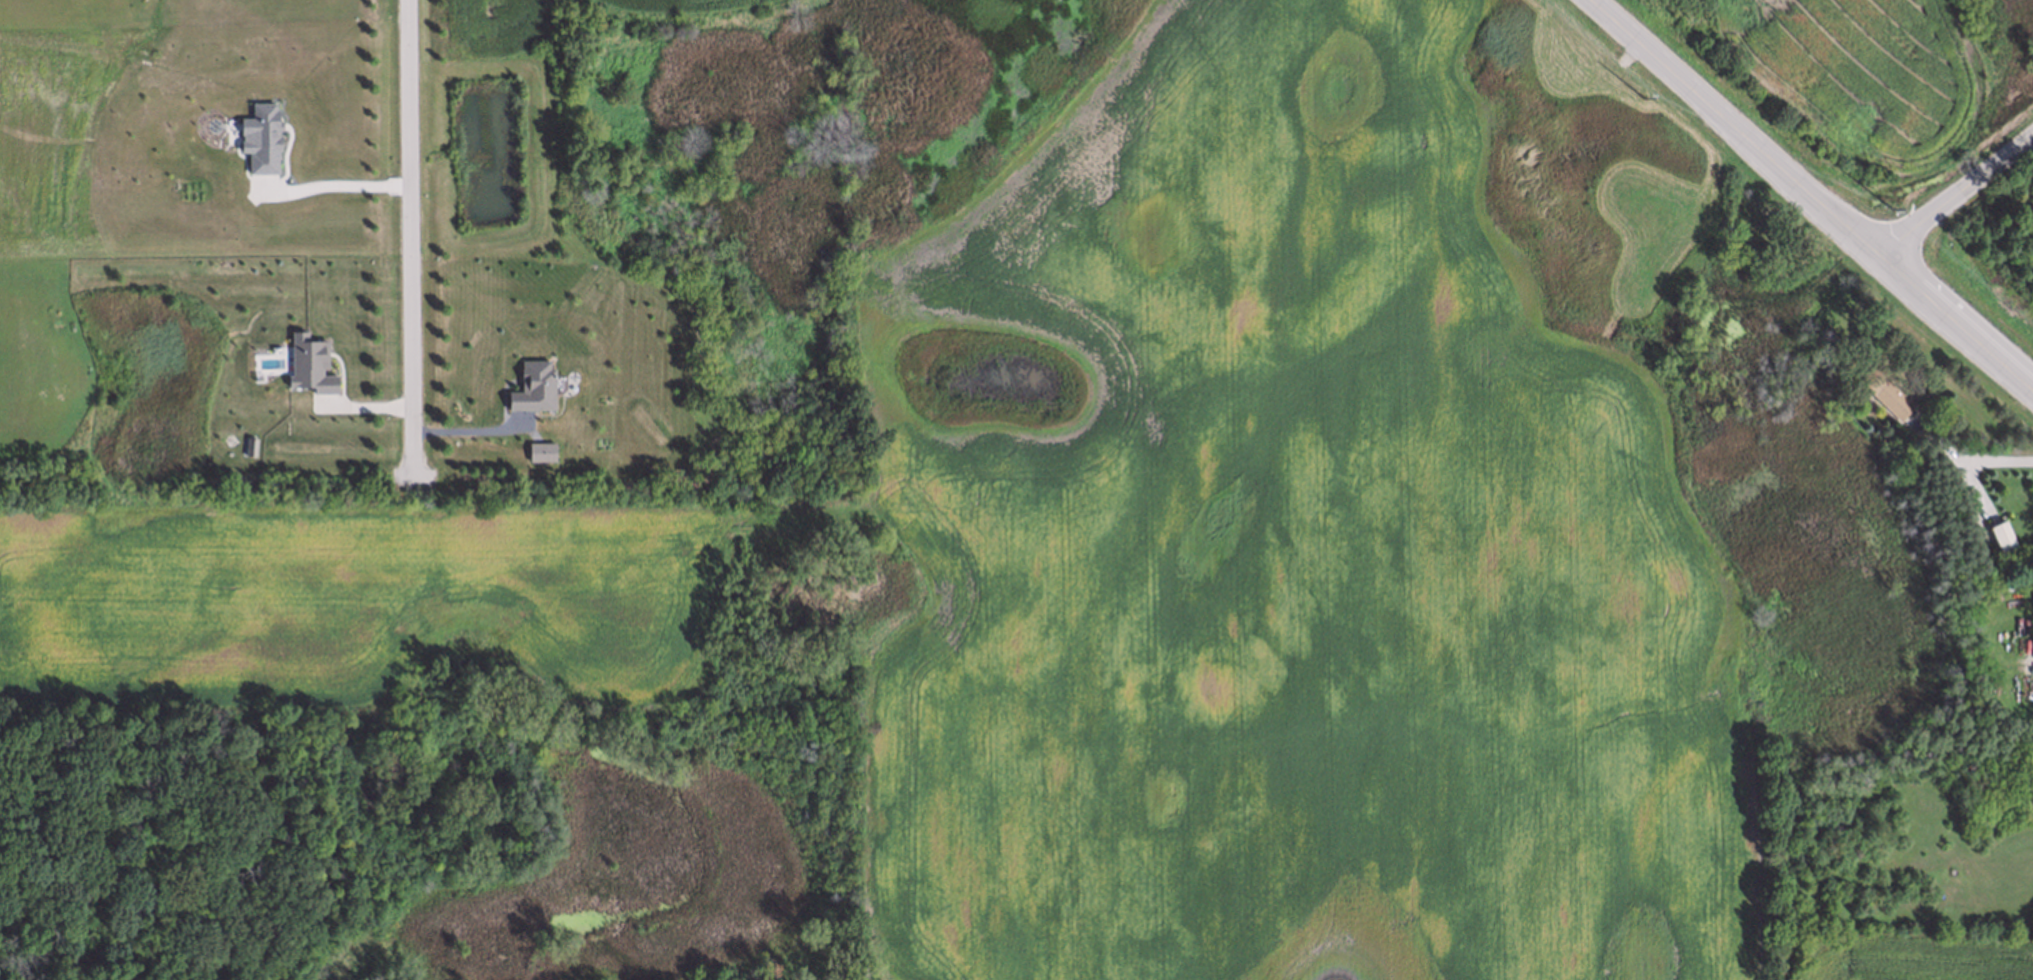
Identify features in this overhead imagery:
power tower: (1642, 98)
road: (338, 184)
road: (1812, 198)
road: (1956, 198)
power tower: (1892, 209)
road: (410, 235)
building: (309, 363)
building: (534, 384)
building: (1882, 393)
road: (468, 426)
road: (1973, 464)
building: (2003, 539)

